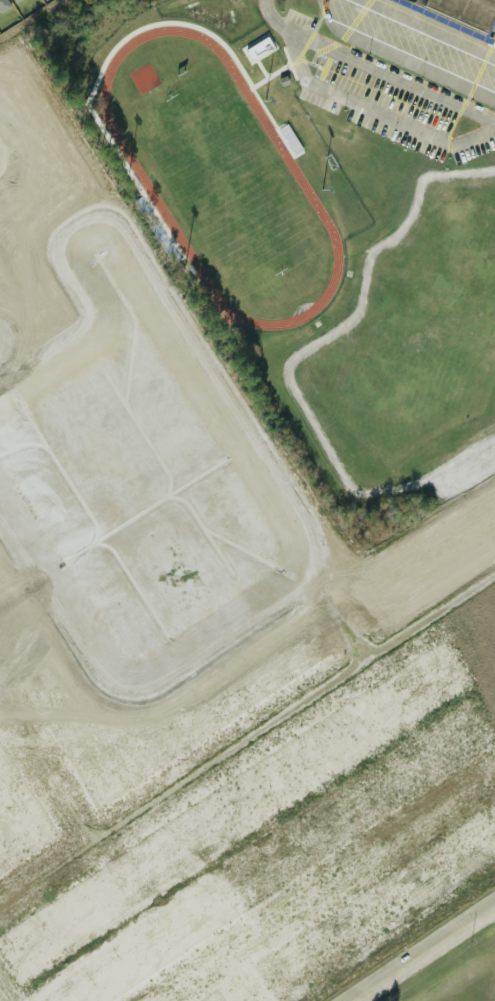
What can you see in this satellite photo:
building: (464, 11)
road: (432, 28)
road: (415, 65)
road: (372, 68)
road: (372, 113)
park: (226, 181)
park: (426, 314)
road: (249, 740)
road: (45, 769)
road: (359, 865)
road: (421, 951)
road: (190, 979)
road: (238, 979)
road: (1, 997)

